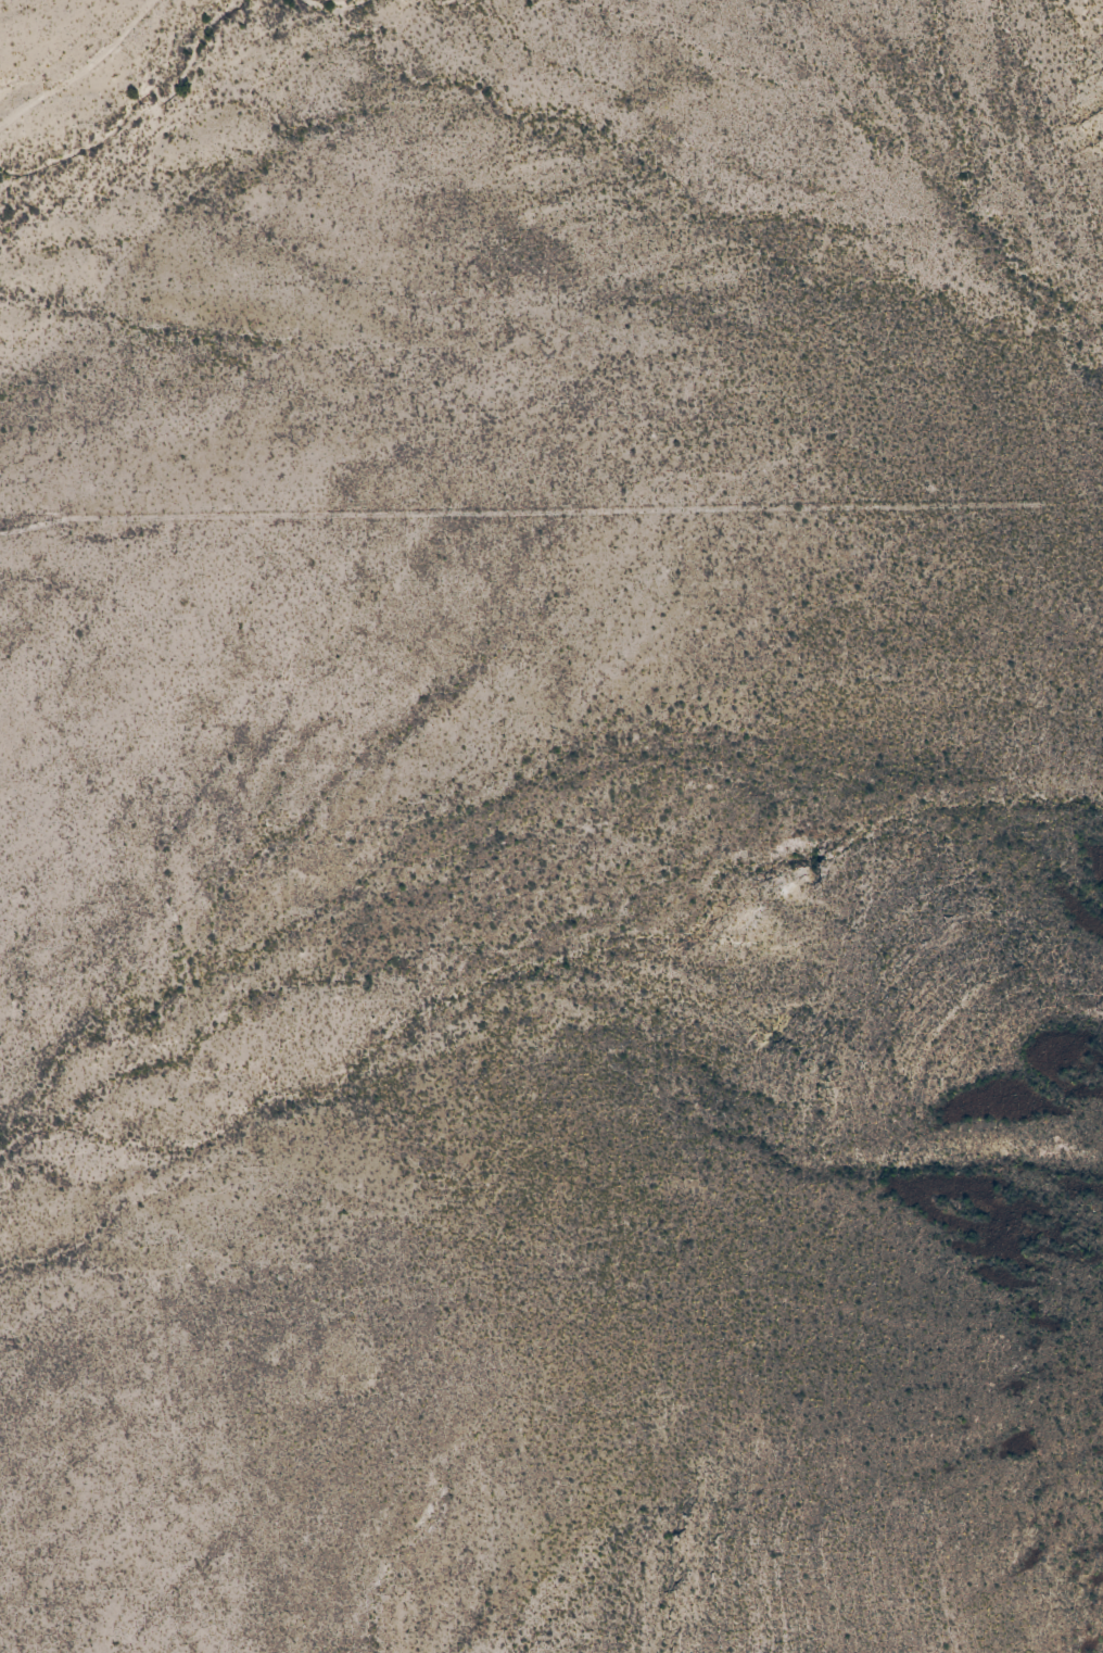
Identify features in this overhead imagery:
road: (91, 63)

